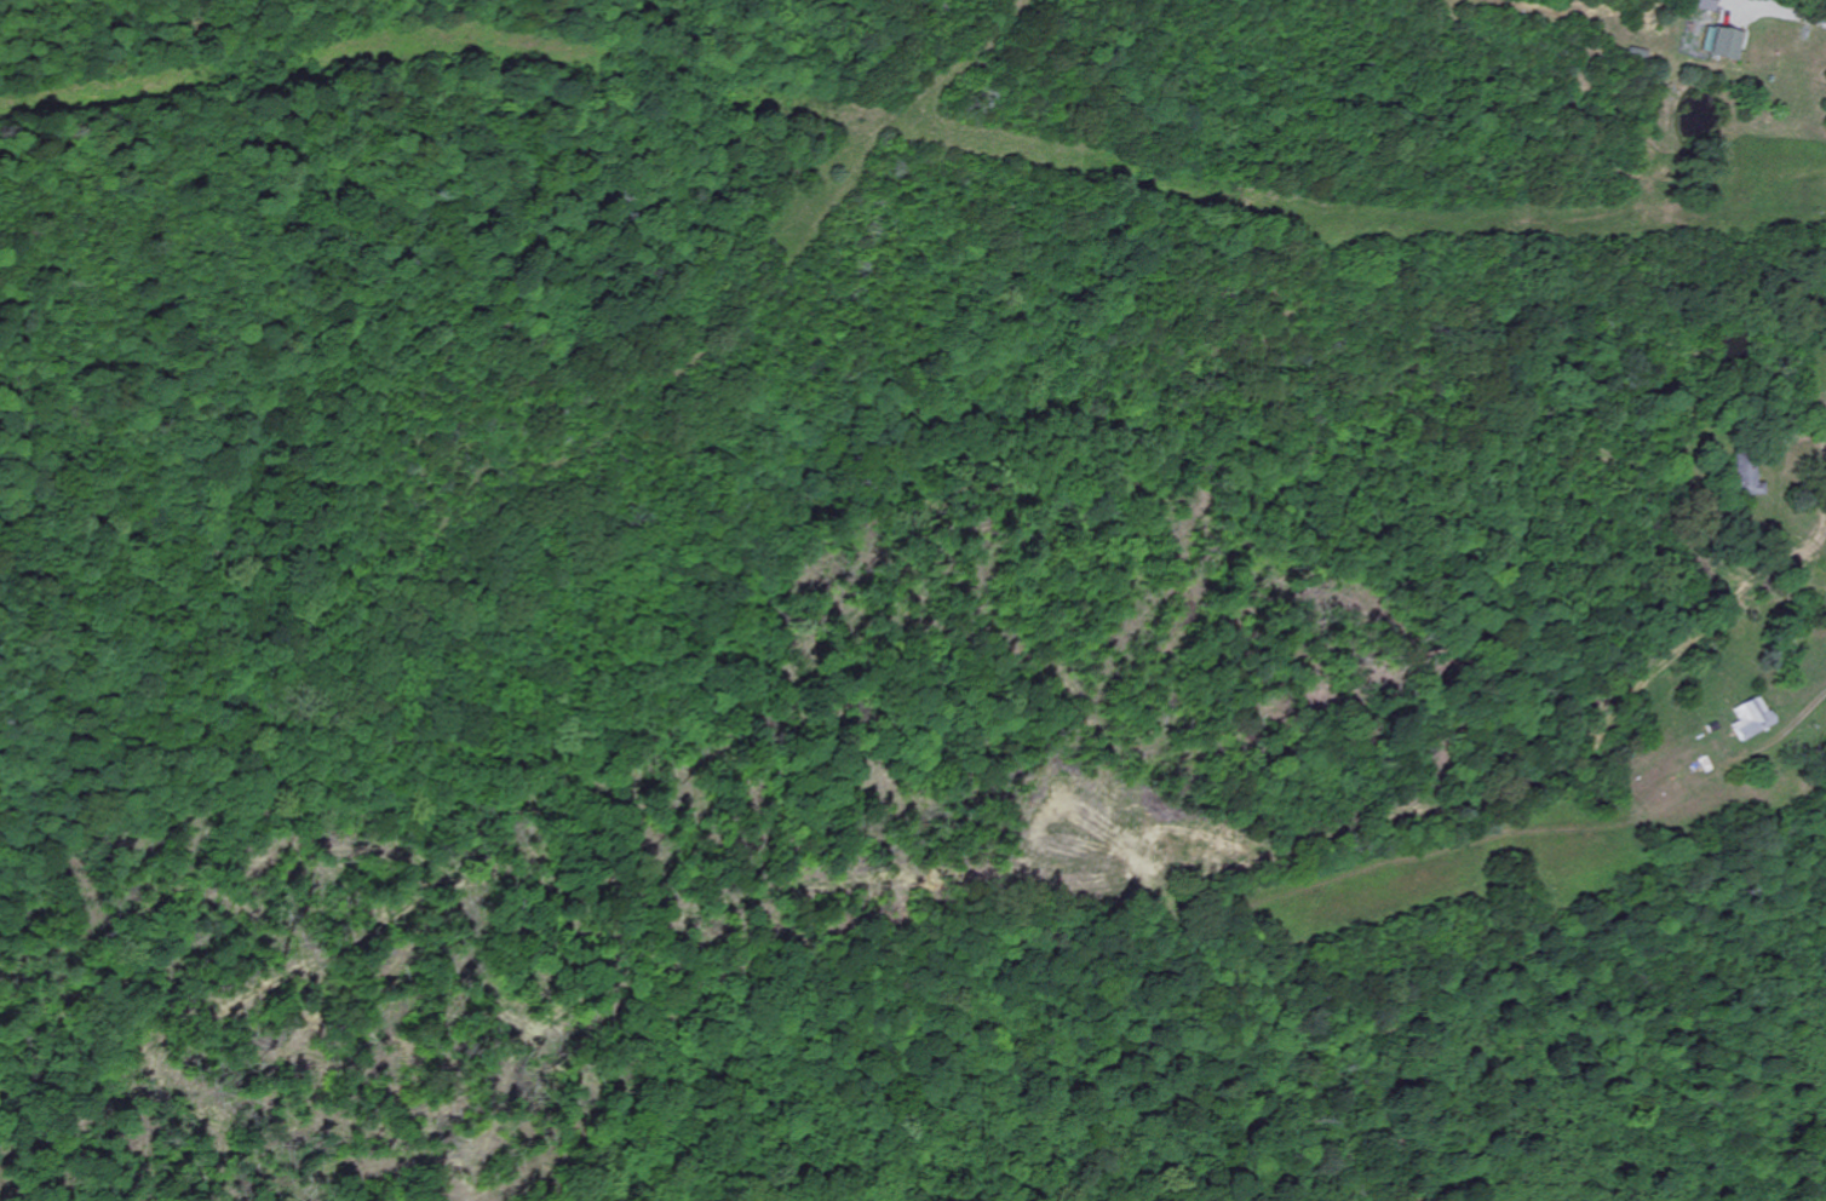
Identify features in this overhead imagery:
building: (1704, 4)
building: (1725, 41)
building: (1750, 476)
building: (1753, 718)

